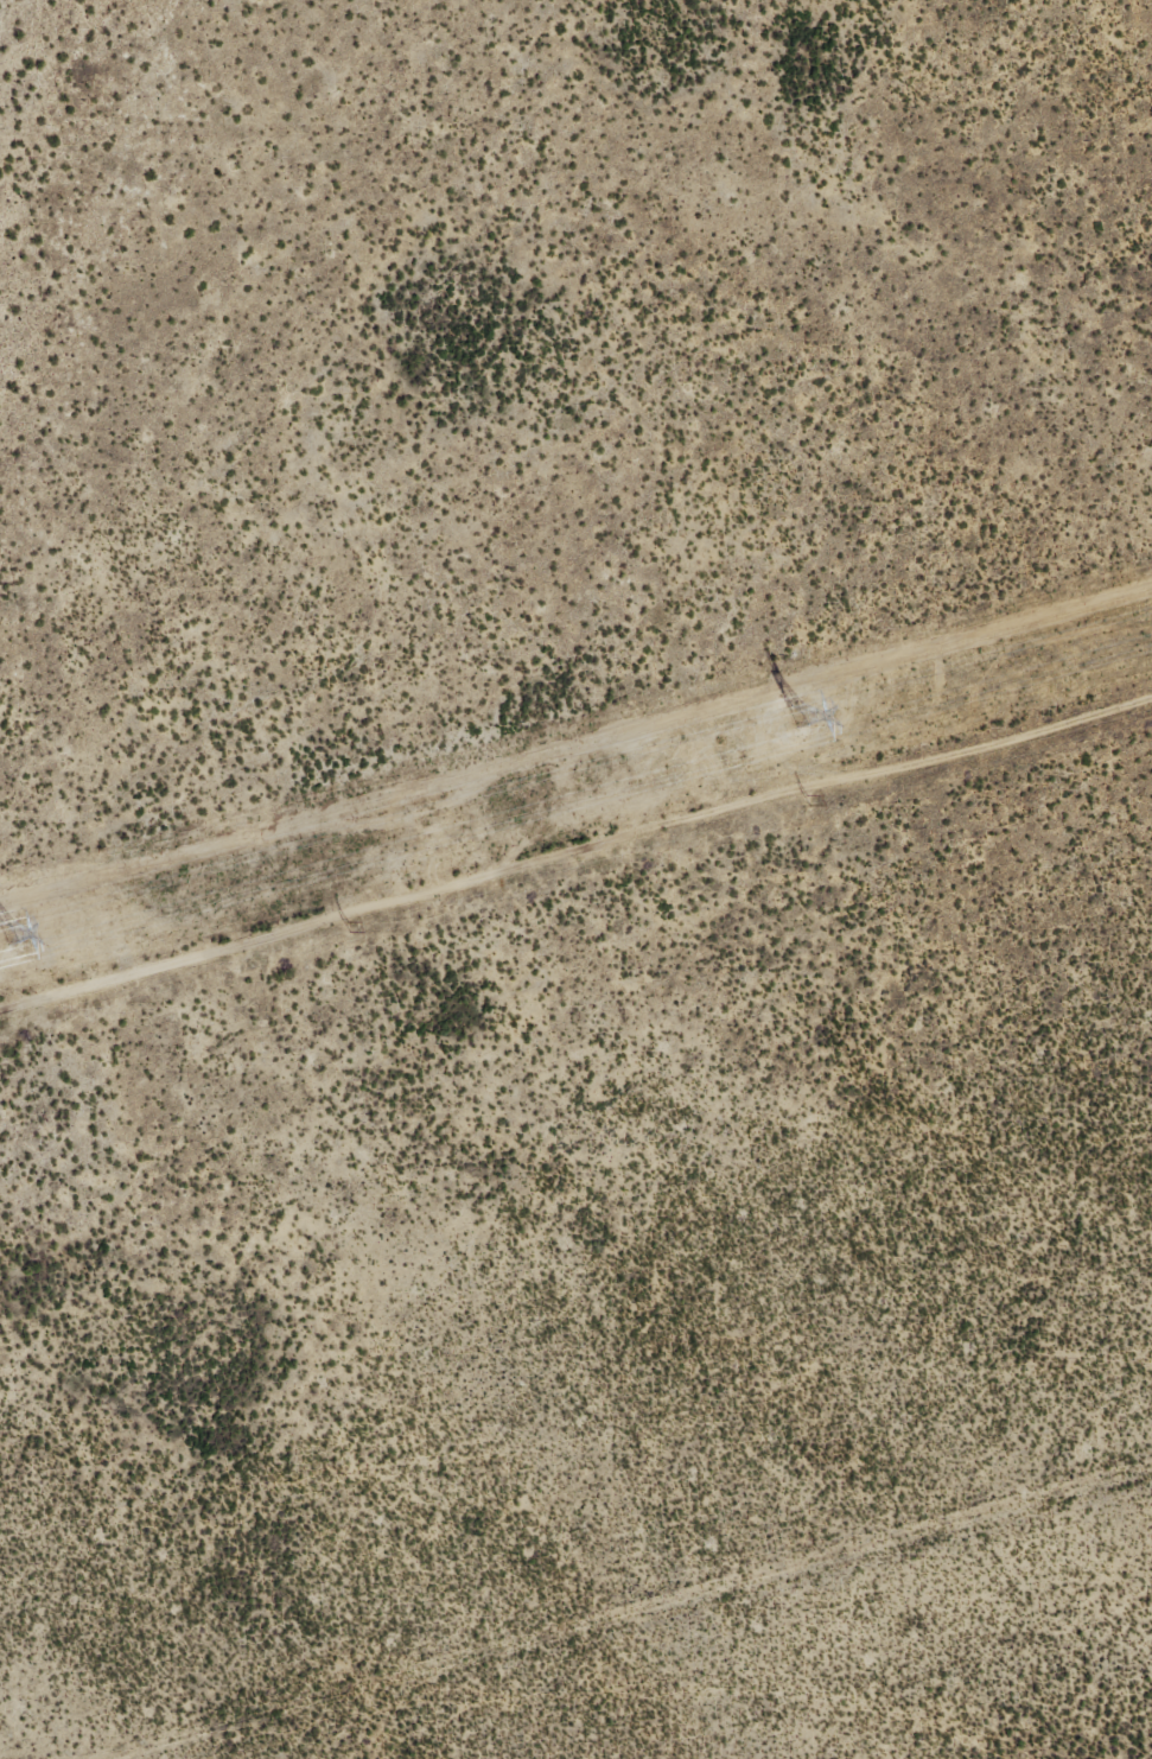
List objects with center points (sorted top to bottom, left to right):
power tower: (798, 715)
power tower: (807, 802)
power tower: (346, 927)
power tower: (6, 936)

